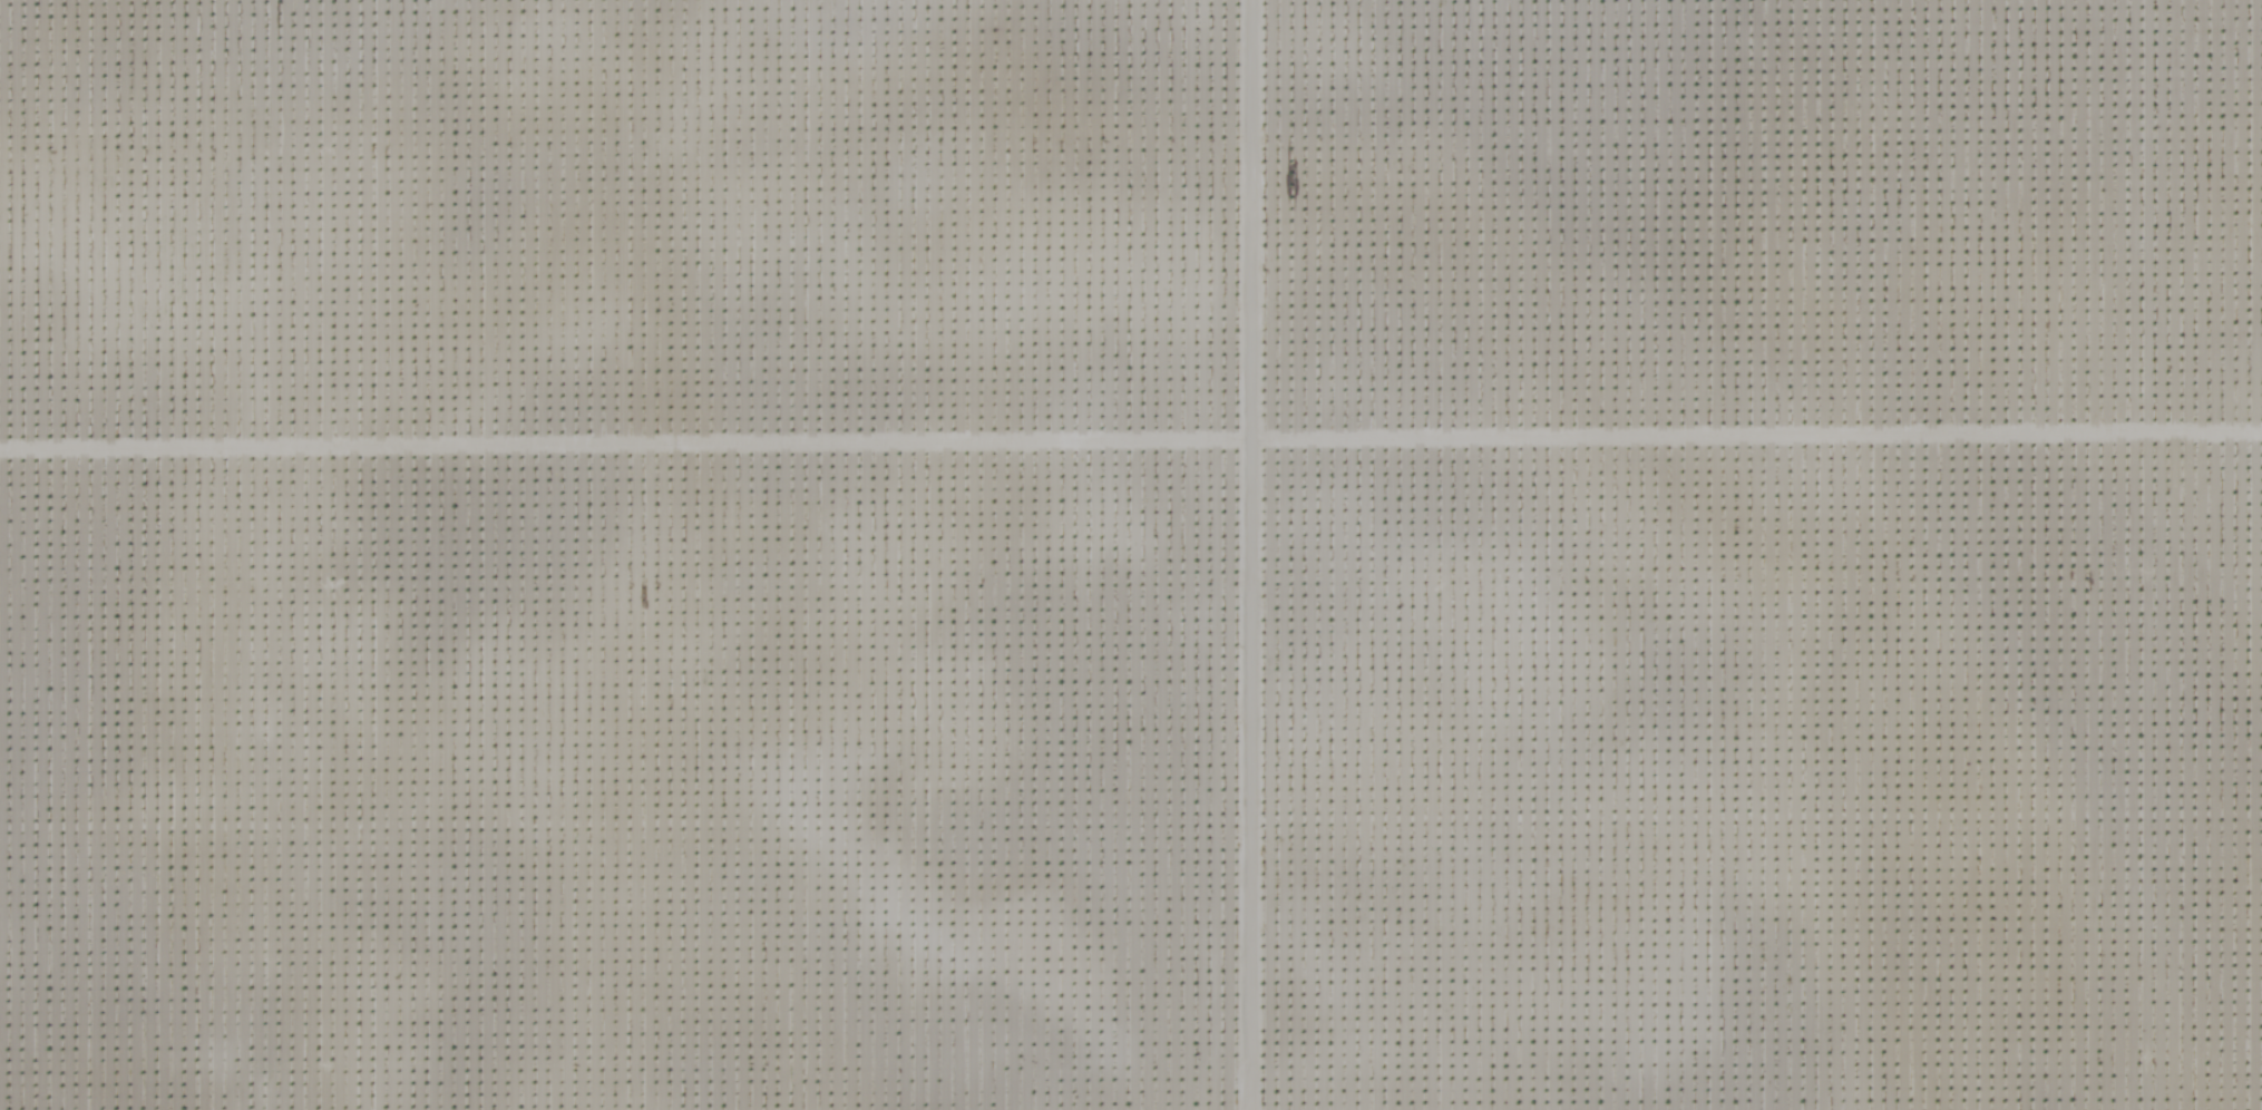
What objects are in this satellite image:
road: (254, 555)
crop: (1131, 555)
road: (1219, 555)
road: (2136, 555)

